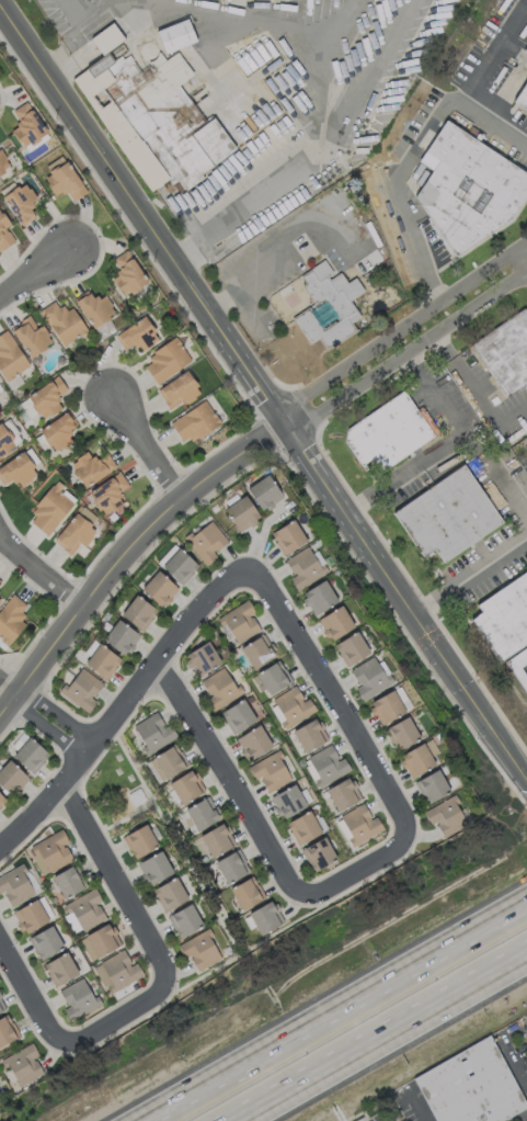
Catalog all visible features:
road: (509, 29)
building: (174, 34)
building: (105, 37)
road: (68, 48)
building: (526, 48)
road: (307, 56)
road: (477, 77)
building: (522, 97)
building: (152, 117)
building: (26, 124)
road: (404, 147)
building: (3, 162)
building: (62, 179)
building: (466, 184)
building: (20, 202)
road: (288, 224)
building: (3, 233)
road: (41, 271)
building: (127, 273)
building: (326, 304)
building: (94, 307)
building: (62, 321)
road: (399, 326)
building: (137, 333)
building: (31, 336)
road: (408, 349)
building: (505, 351)
building: (10, 356)
building: (165, 360)
building: (177, 389)
road: (267, 394)
building: (46, 397)
road: (488, 405)
building: (194, 421)
building: (58, 430)
building: (386, 431)
building: (4, 441)
road: (148, 446)
road: (443, 446)
building: (90, 466)
building: (19, 467)
road: (509, 488)
building: (263, 491)
building: (107, 494)
building: (49, 508)
road: (525, 510)
building: (241, 512)
building: (446, 514)
building: (76, 530)
building: (287, 536)
building: (205, 541)
road: (131, 551)
building: (177, 564)
building: (305, 566)
road: (41, 571)
road: (470, 575)
building: (158, 588)
building: (318, 597)
building: (0, 598)
building: (137, 612)
building: (503, 616)
building: (11, 618)
building: (238, 622)
building: (334, 622)
building: (121, 636)
building: (351, 648)
building: (257, 650)
building: (202, 658)
building: (101, 660)
building: (273, 677)
building: (369, 677)
road: (8, 683)
building: (219, 688)
building: (81, 689)
road: (123, 703)
road: (335, 704)
building: (389, 704)
building: (290, 706)
road: (56, 710)
building: (237, 715)
road: (42, 726)
building: (152, 732)
building: (401, 733)
building: (309, 734)
building: (252, 741)
building: (30, 754)
building: (417, 758)
building: (169, 760)
building: (325, 765)
building: (270, 770)
building: (11, 778)
building: (185, 785)
building: (431, 785)
road: (230, 786)
building: (342, 793)
building: (1, 801)
building: (286, 801)
building: (201, 813)
building: (445, 815)
building: (358, 824)
building: (302, 827)
building: (216, 839)
building: (139, 840)
building: (48, 852)
building: (318, 853)
building: (231, 865)
building: (153, 867)
road: (358, 870)
road: (115, 879)
building: (68, 881)
building: (16, 884)
building: (245, 892)
building: (169, 893)
building: (82, 910)
building: (32, 914)
building: (265, 917)
building: (184, 920)
building: (102, 939)
building: (45, 942)
building: (199, 949)
building: (59, 969)
building: (116, 971)
road: (24, 997)
building: (77, 998)
building: (1, 1007)
road: (339, 1011)
road: (114, 1020)
building: (7, 1030)
road: (375, 1033)
building: (21, 1065)
building: (470, 1086)

